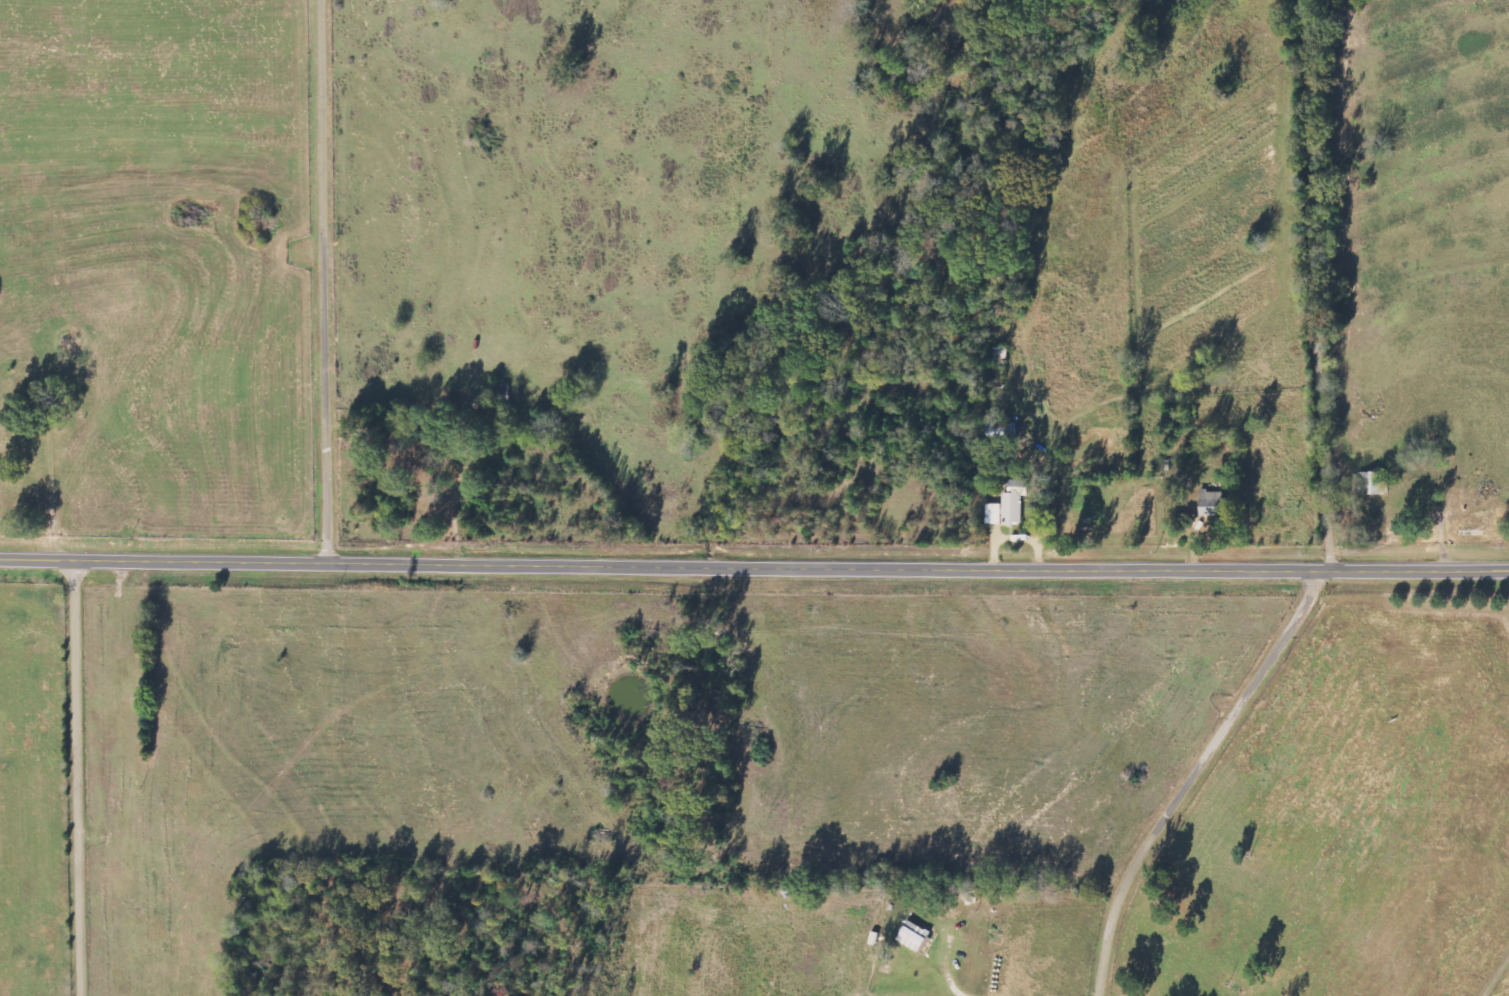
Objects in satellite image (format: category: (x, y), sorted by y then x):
road: (332, 280)
road: (1326, 286)
building: (1373, 483)
building: (1009, 505)
building: (1213, 505)
road: (754, 569)
road: (1199, 774)
road: (79, 778)
building: (915, 937)

